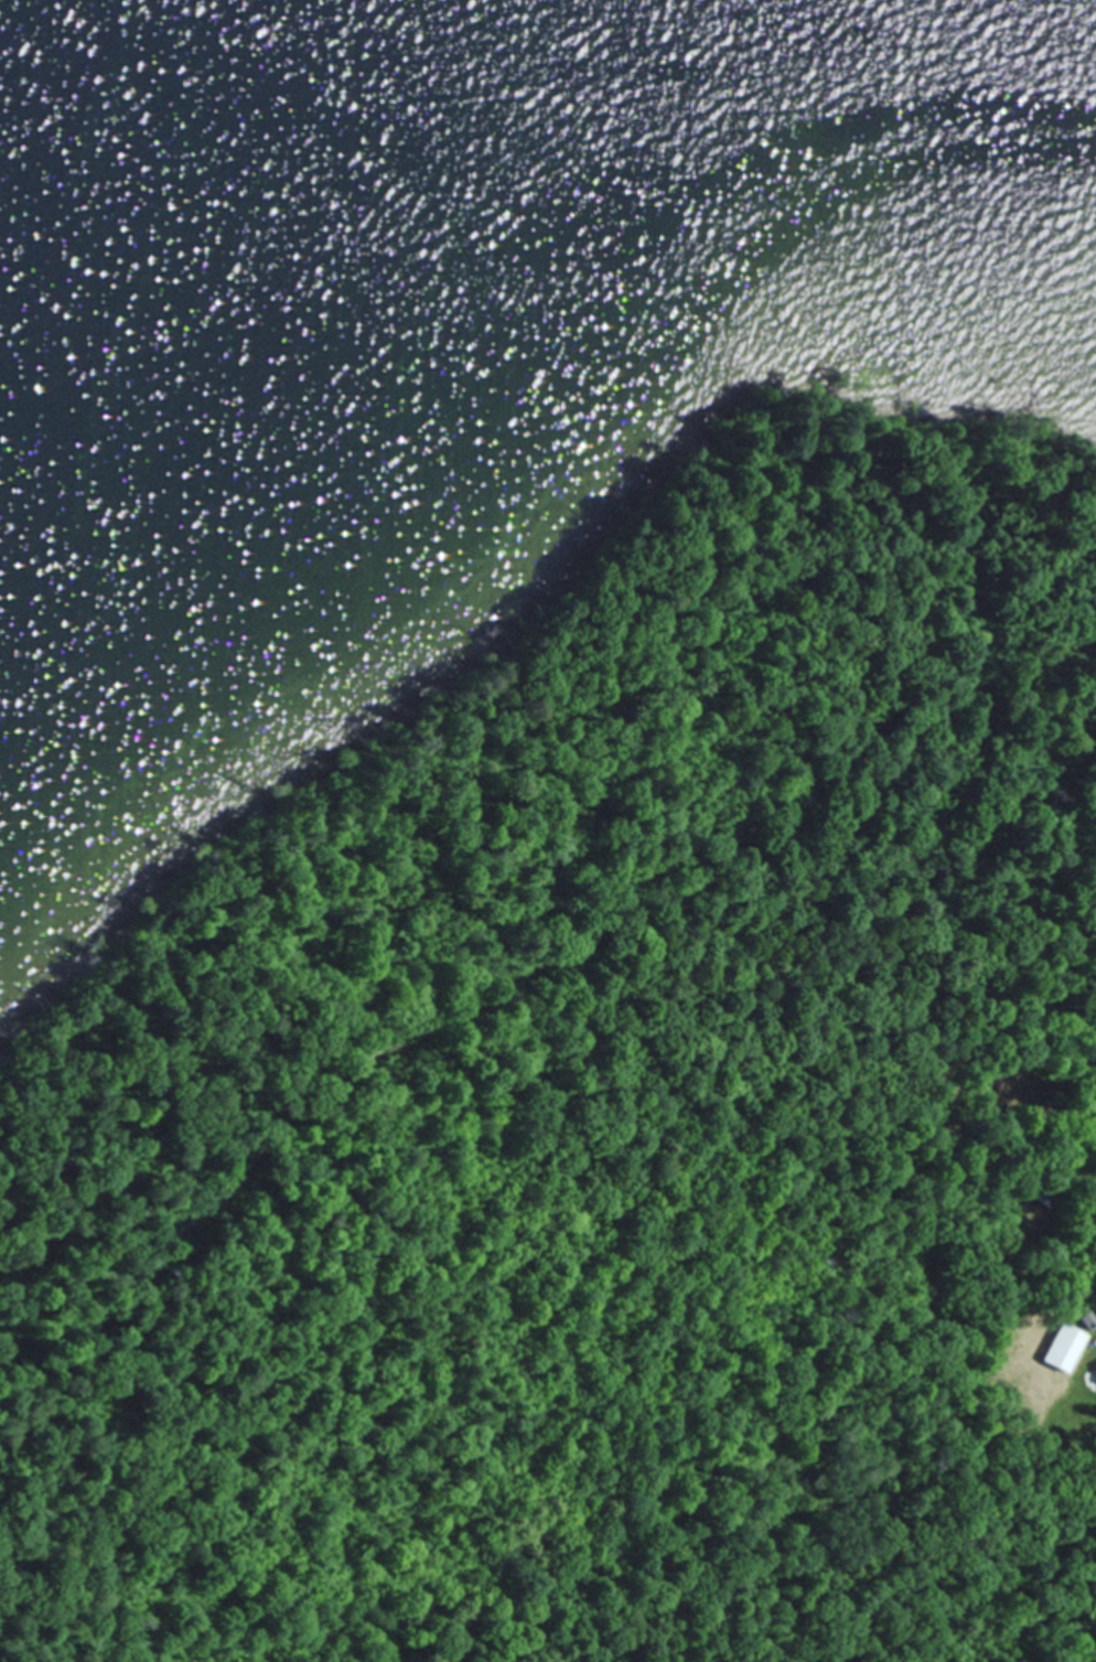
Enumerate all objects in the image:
road: (1011, 940)
road: (406, 1044)
building: (1038, 1192)
building: (1095, 1364)

